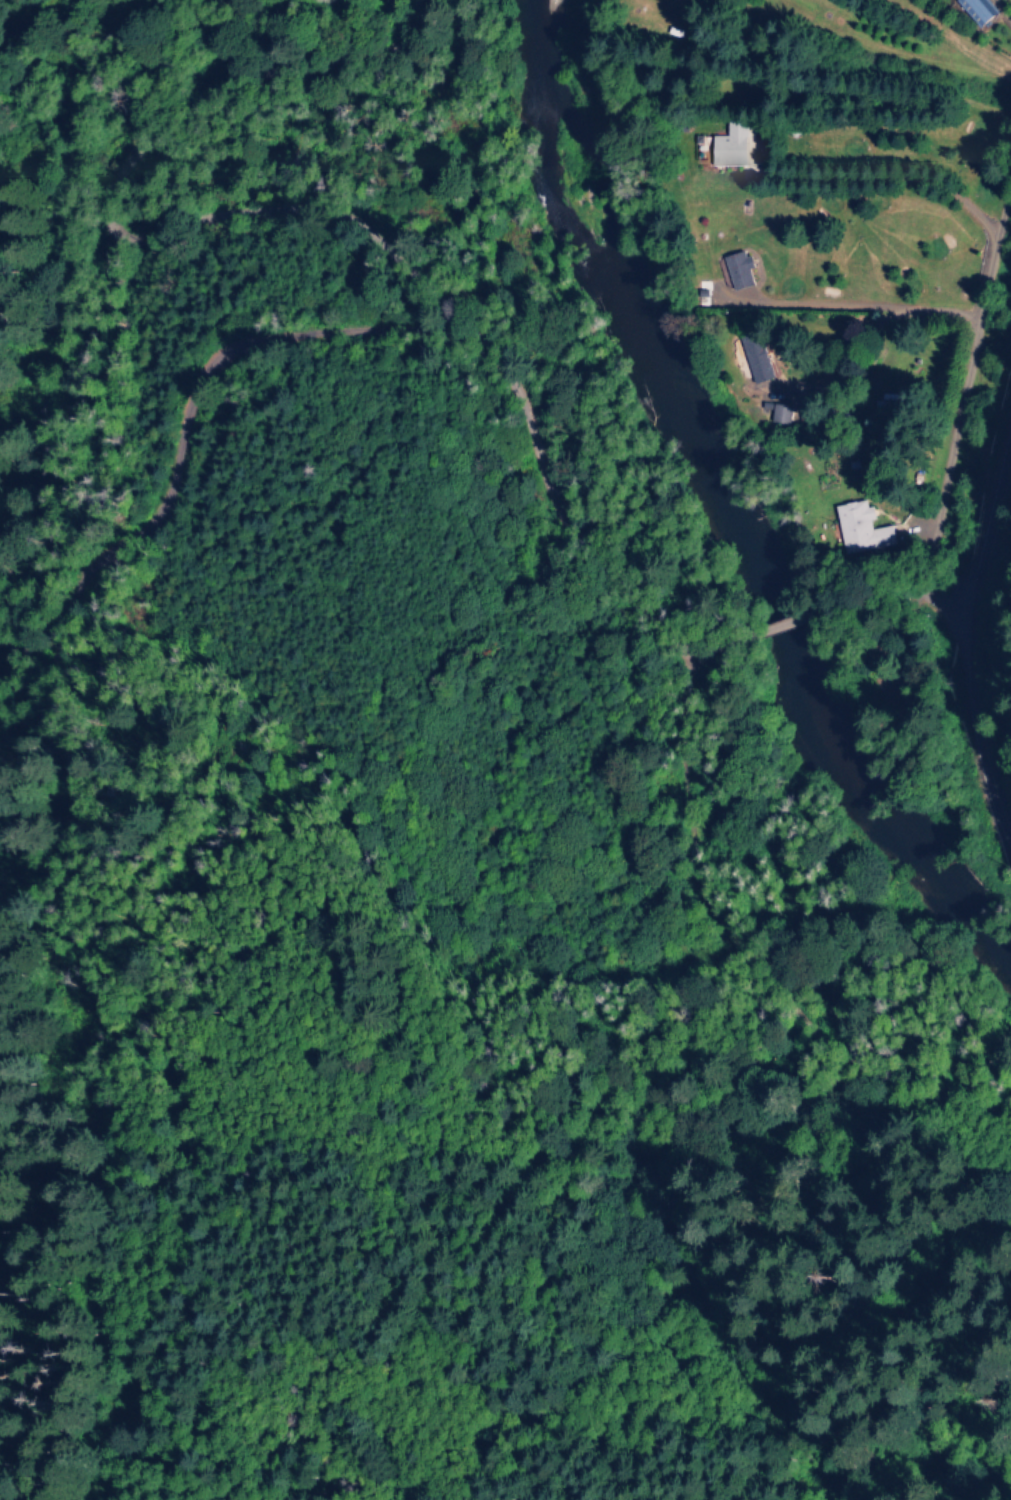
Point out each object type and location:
building: (973, 10)
building: (724, 147)
road: (109, 219)
building: (734, 269)
building: (752, 359)
road: (947, 389)
building: (777, 414)
road: (519, 436)
river: (734, 515)
building: (859, 528)
road: (56, 602)
road: (965, 667)
road: (389, 989)

